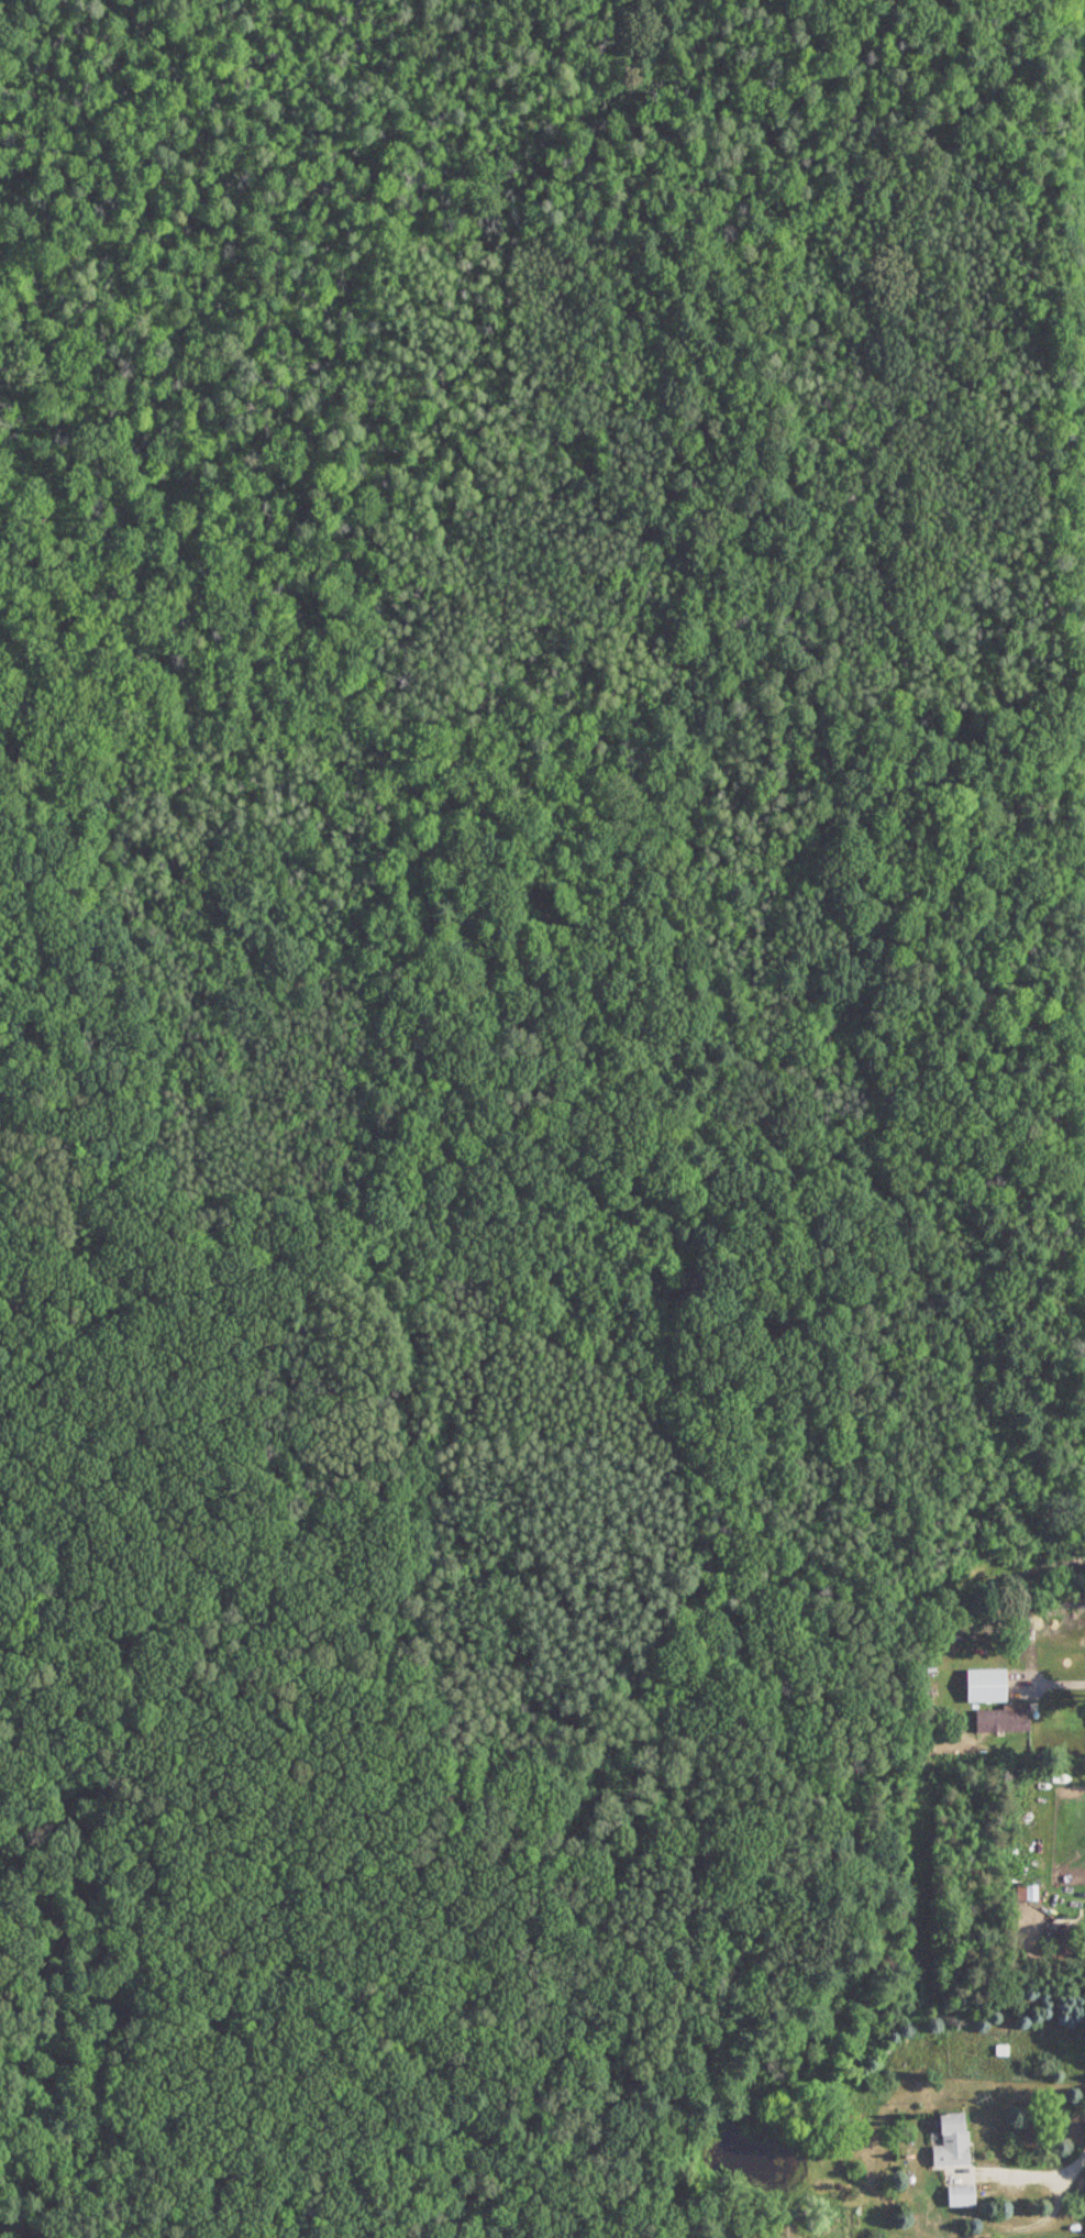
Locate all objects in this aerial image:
road: (567, 1381)
building: (987, 1685)
building: (1004, 1719)
building: (1027, 1893)
building: (1065, 1937)
building: (953, 2140)
road: (1044, 2176)
building: (962, 2195)
road: (1045, 2214)

